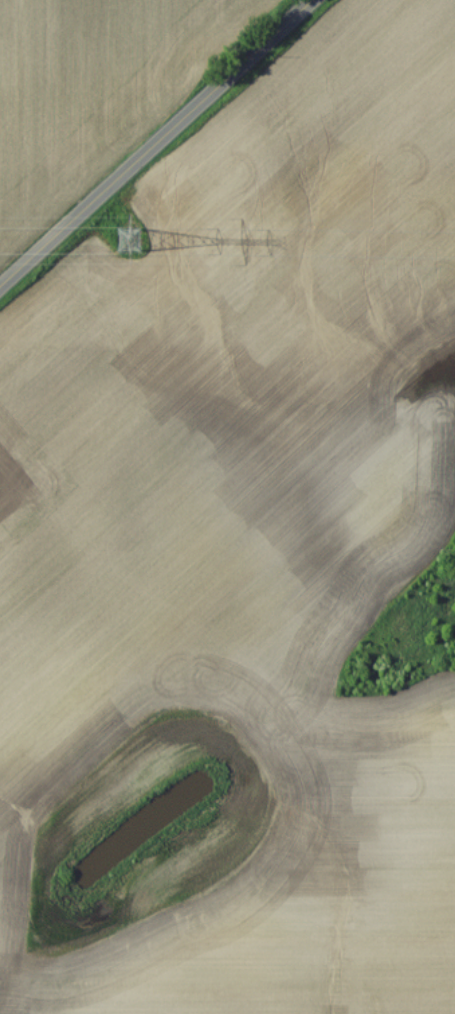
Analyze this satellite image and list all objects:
road: (156, 142)
power tower: (129, 240)

